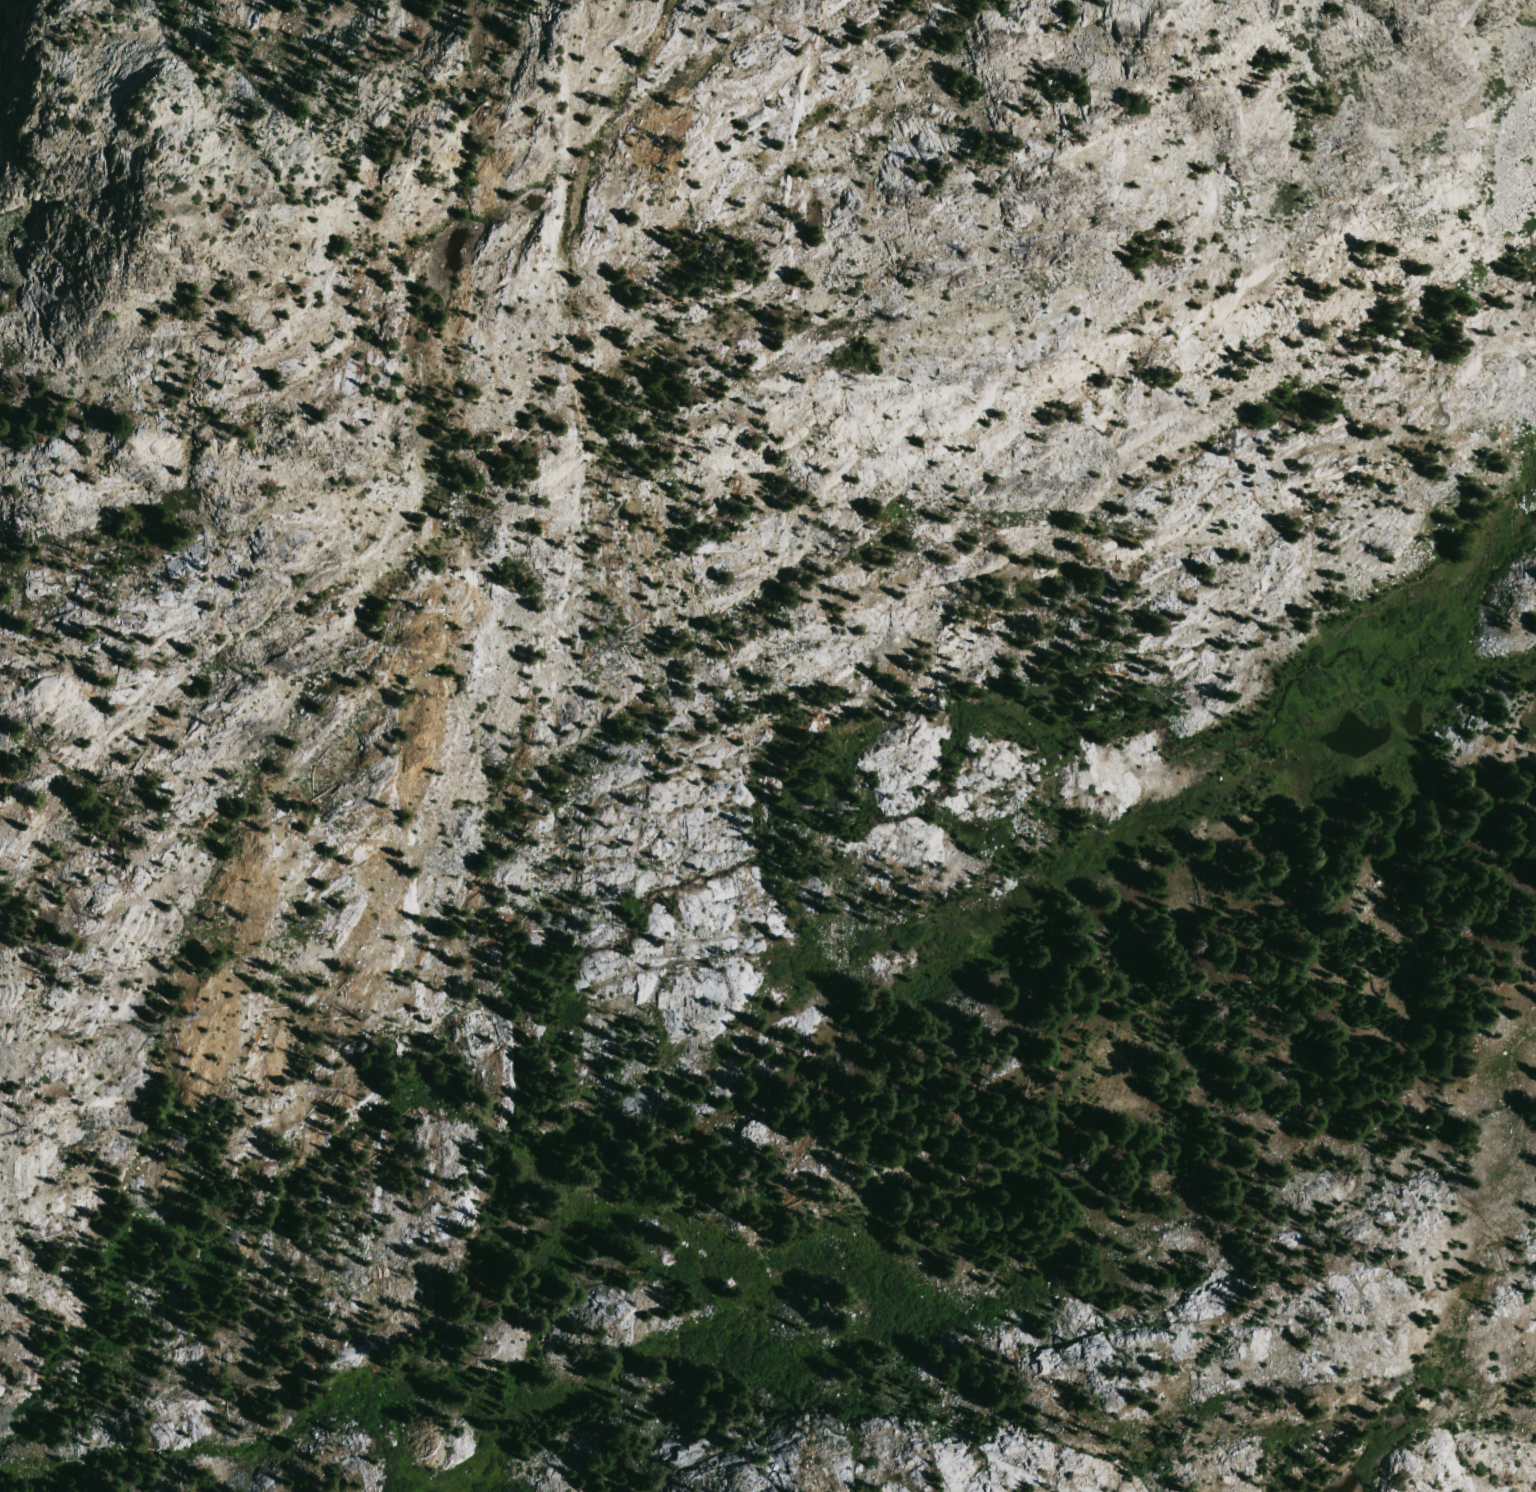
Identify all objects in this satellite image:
road: (146, 1392)

